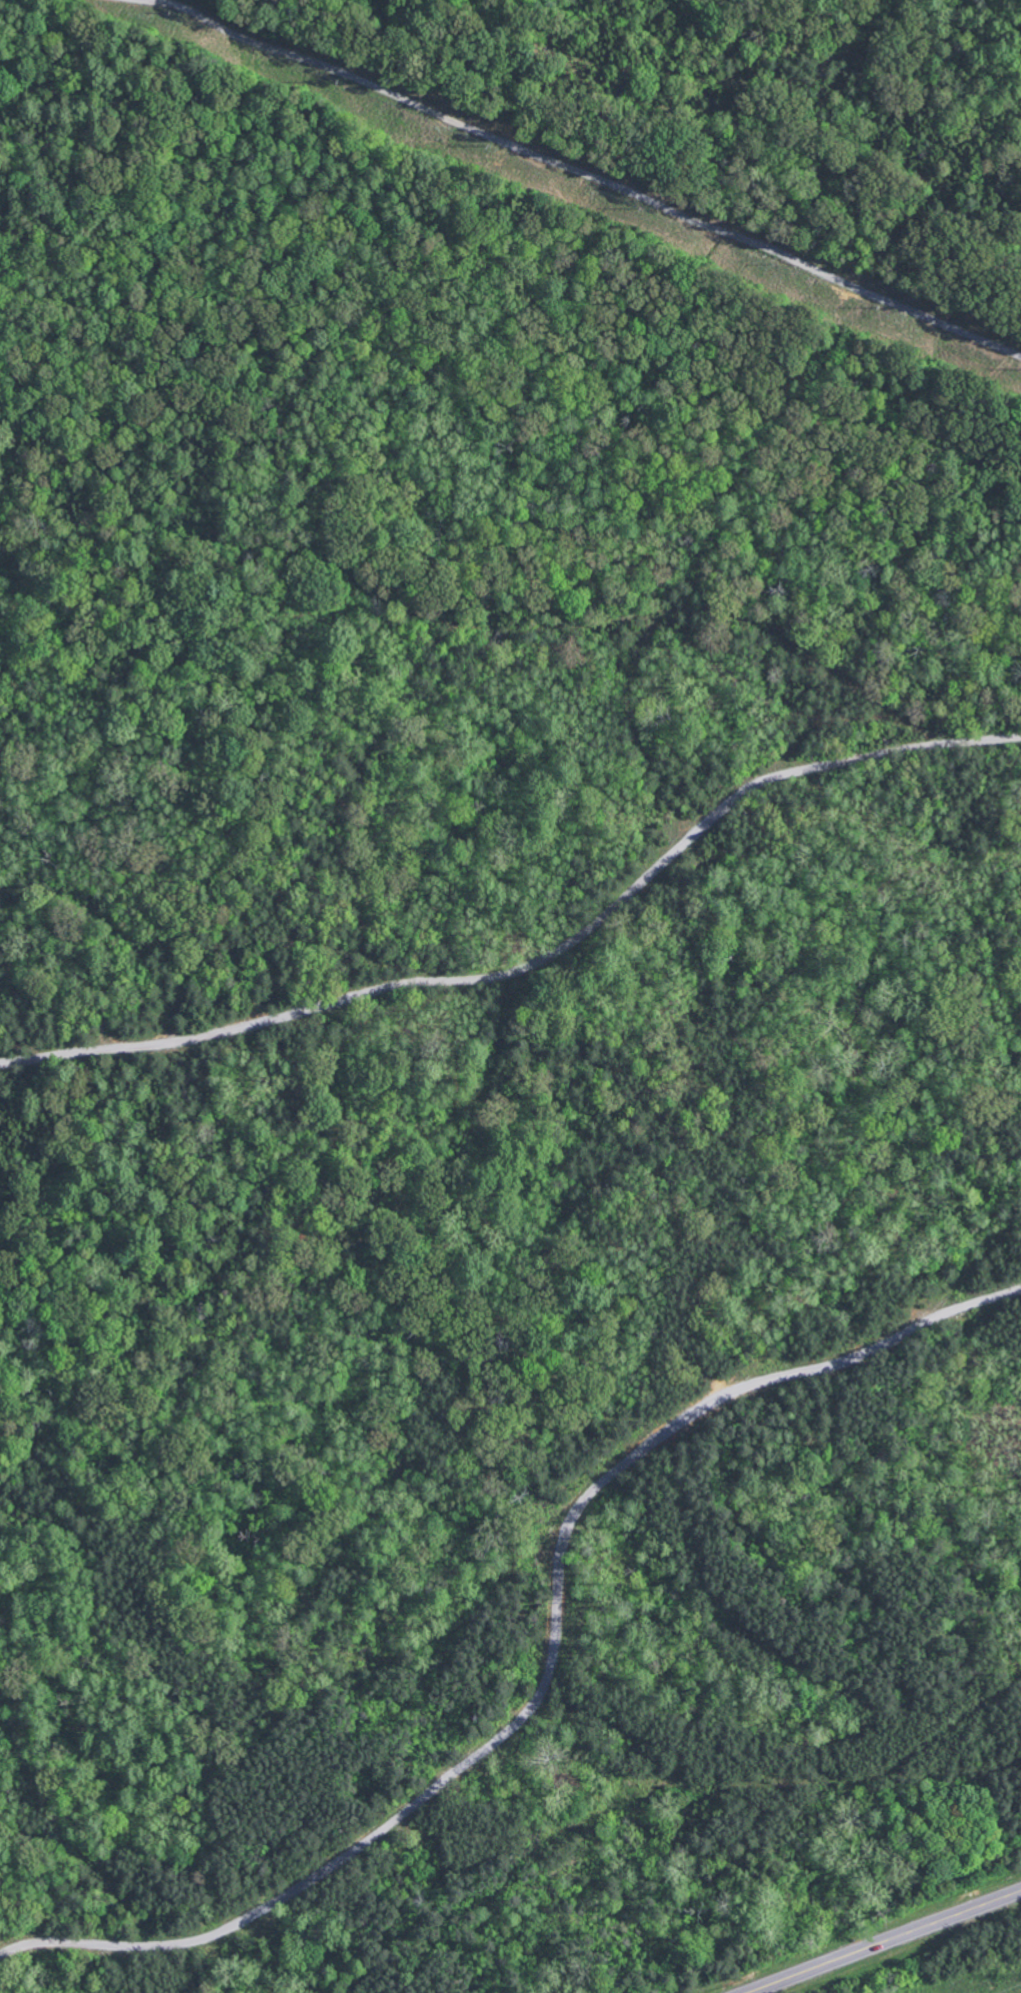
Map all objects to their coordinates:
road: (885, 1941)

